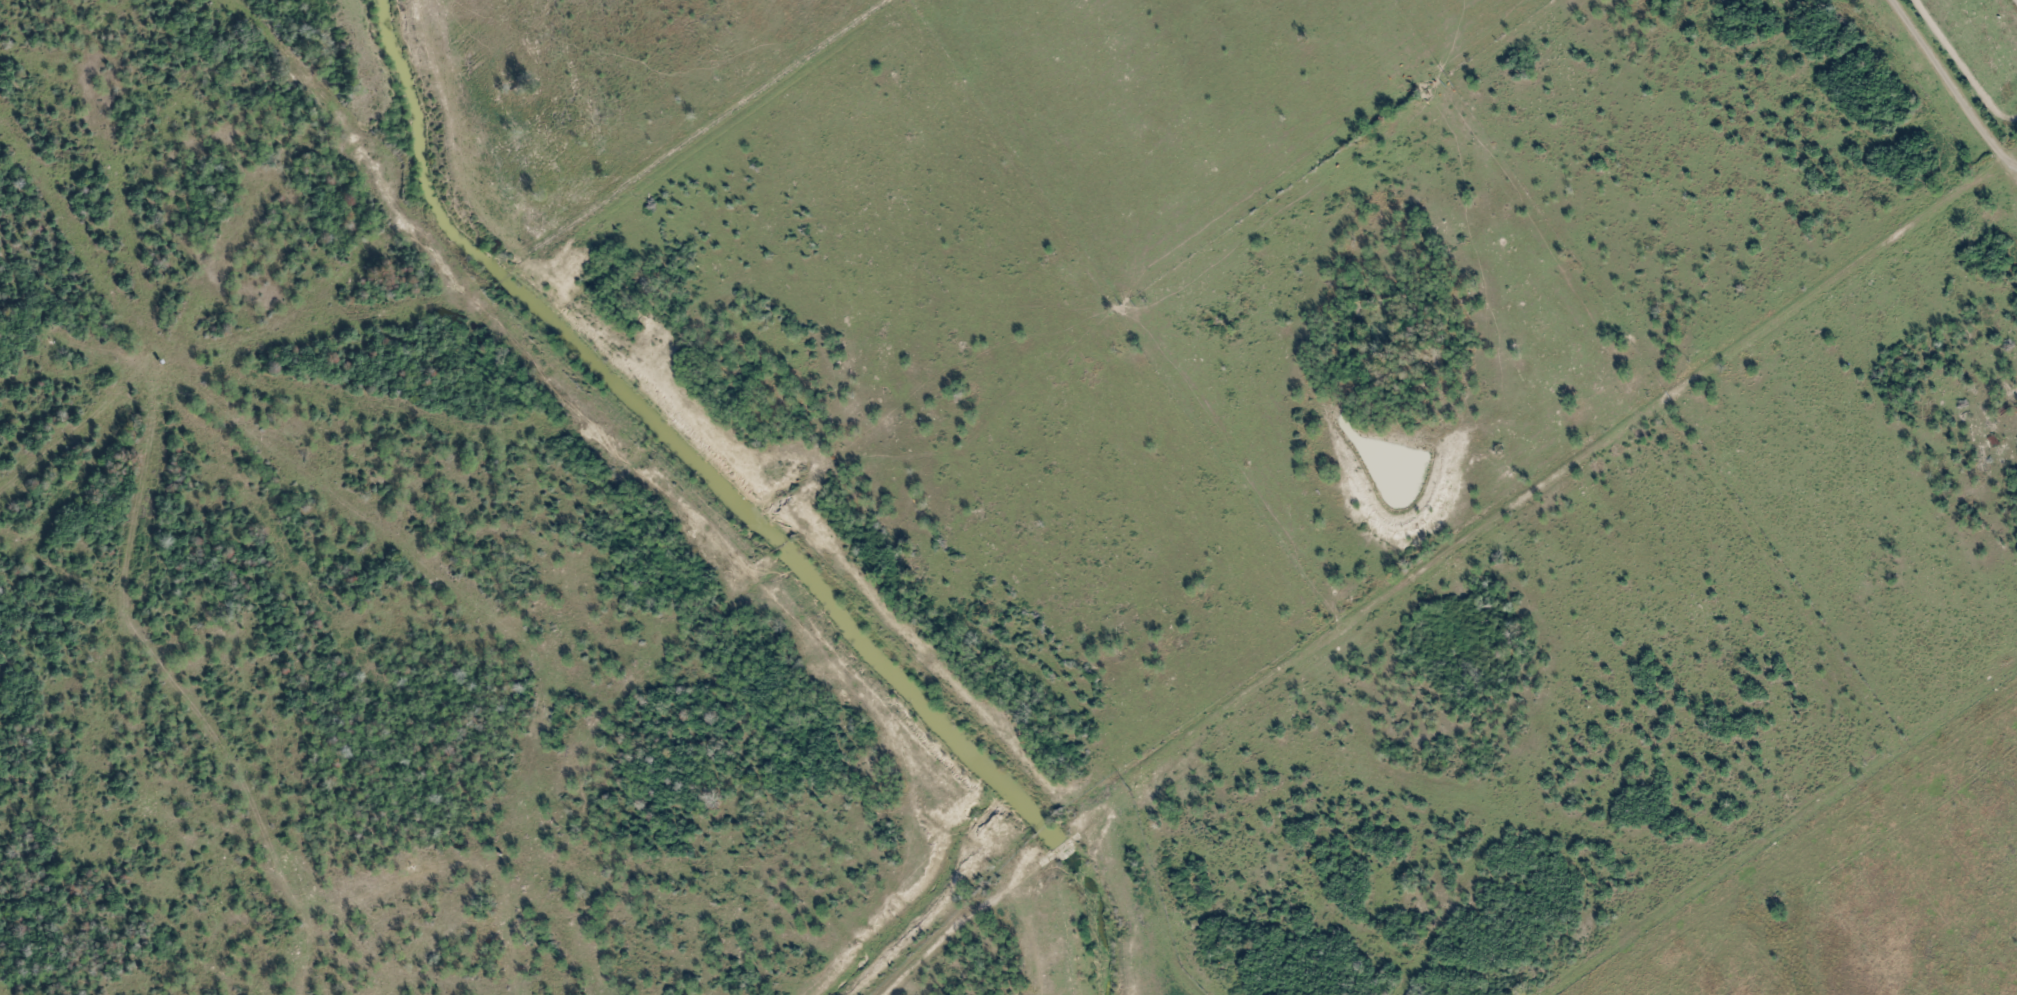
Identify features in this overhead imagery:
road: (1955, 84)

